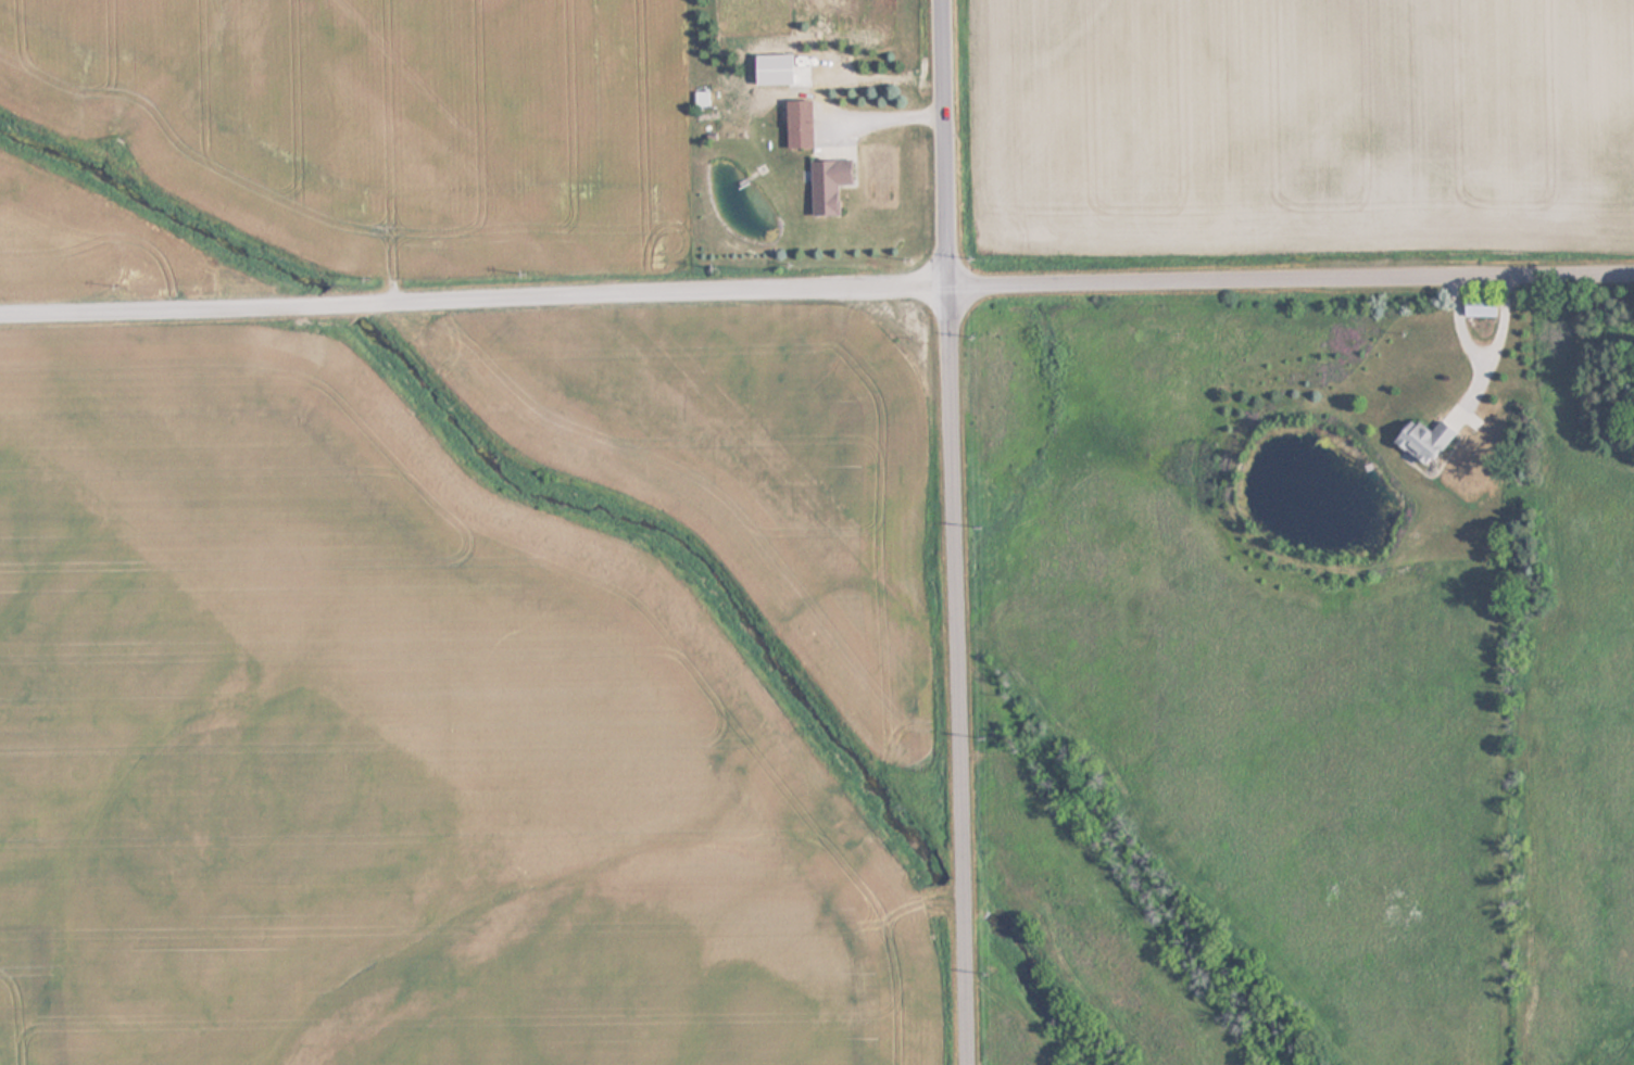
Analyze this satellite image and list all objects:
road: (888, 116)
building: (795, 124)
road: (946, 144)
building: (826, 185)
road: (1292, 284)
road: (475, 299)
road: (1495, 326)
road: (1468, 352)
building: (1421, 441)
road: (957, 676)

